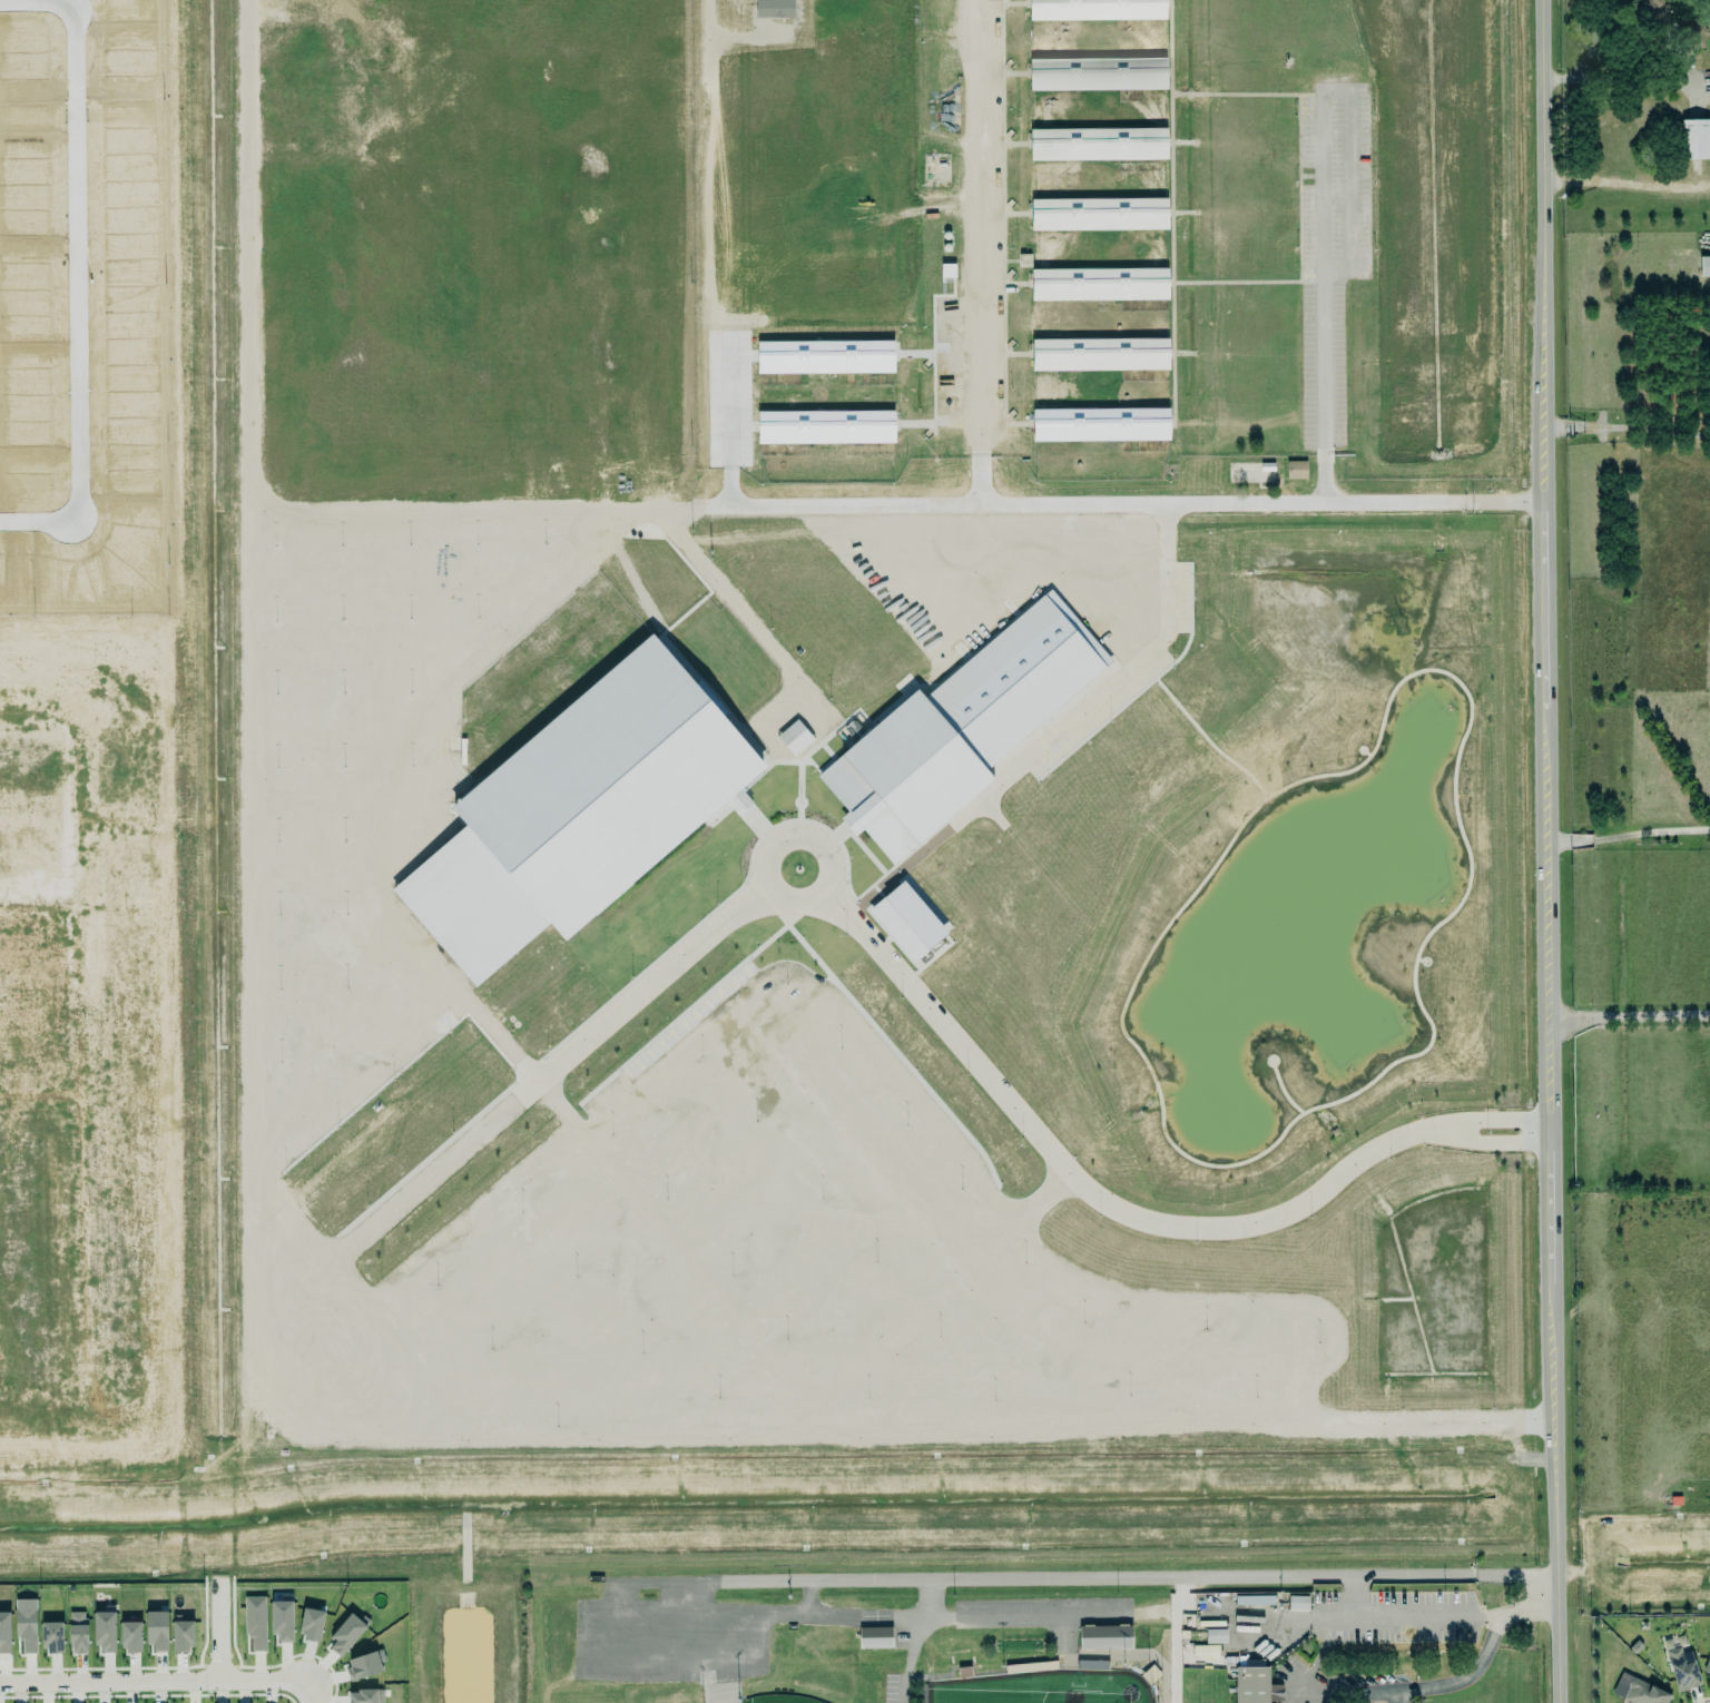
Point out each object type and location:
road: (30, 1)
building: (775, 8)
building: (1094, 10)
road: (718, 30)
building: (1095, 75)
road: (1628, 80)
building: (1694, 139)
building: (1095, 145)
road: (1315, 179)
road: (1627, 183)
road: (979, 214)
building: (1097, 215)
road: (72, 258)
building: (1704, 266)
building: (1098, 285)
building: (1098, 355)
building: (825, 356)
road: (706, 403)
building: (1100, 424)
building: (825, 426)
road: (1628, 426)
building: (1295, 471)
building: (1250, 475)
road: (1235, 503)
road: (35, 521)
road: (728, 598)
road: (1148, 650)
building: (961, 728)
building: (795, 737)
road: (393, 749)
building: (738, 801)
building: (578, 813)
road: (1627, 835)
road: (1543, 851)
road: (38, 905)
road: (76, 917)
building: (907, 922)
road: (245, 985)
road: (1627, 1018)
road: (1108, 1210)
road: (82, 1270)
road: (1633, 1565)
road: (1079, 1576)
road: (694, 1593)
building: (1254, 1599)
building: (1298, 1603)
road: (716, 1605)
road: (831, 1613)
road: (907, 1616)
road: (1016, 1616)
road: (1407, 1616)
building: (283, 1620)
building: (255, 1622)
building: (27, 1624)
building: (312, 1625)
building: (101, 1627)
road: (214, 1630)
building: (4, 1632)
building: (78, 1632)
building: (157, 1632)
building: (127, 1633)
building: (346, 1634)
building: (183, 1636)
building: (1216, 1636)
building: (52, 1637)
building: (875, 1637)
building: (1105, 1637)
road: (916, 1641)
building: (1206, 1650)
road: (648, 1654)
building: (1707, 1663)
building: (1681, 1665)
road: (150, 1683)
road: (1444, 1683)
building: (1249, 1684)
building: (1639, 1691)
building: (365, 1696)
road: (1396, 1697)
road: (297, 1699)

